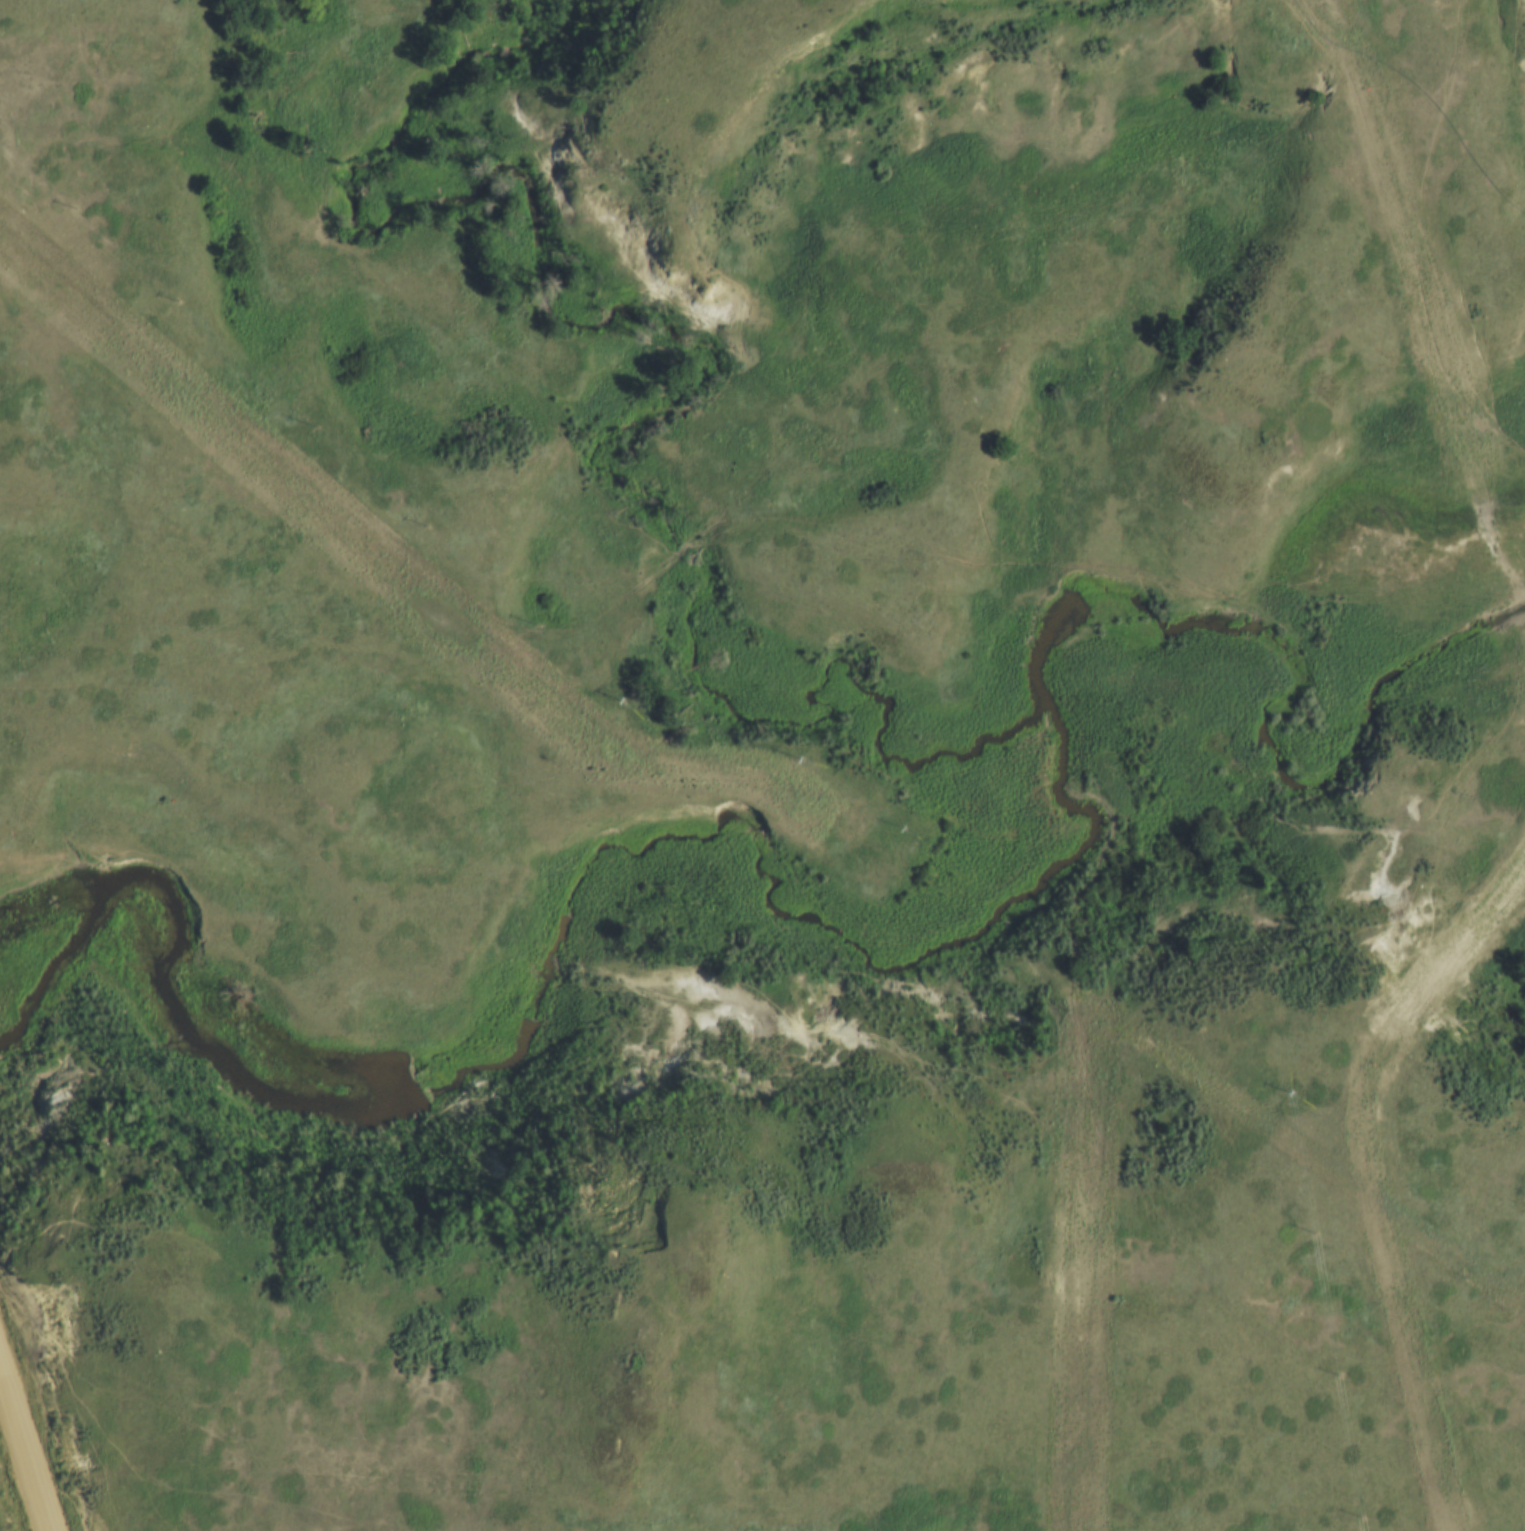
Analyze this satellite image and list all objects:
road: (26, 1446)

